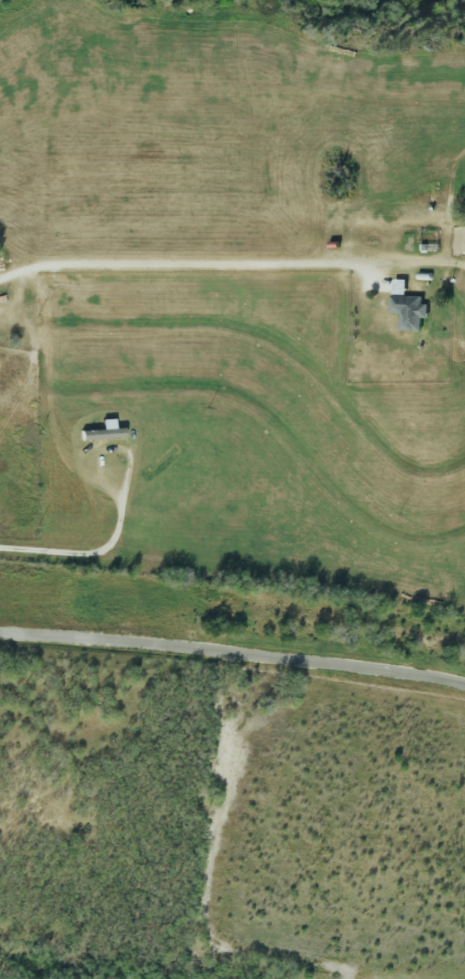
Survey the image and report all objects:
road: (180, 262)
building: (410, 307)
building: (105, 431)
road: (97, 550)
road: (233, 652)

